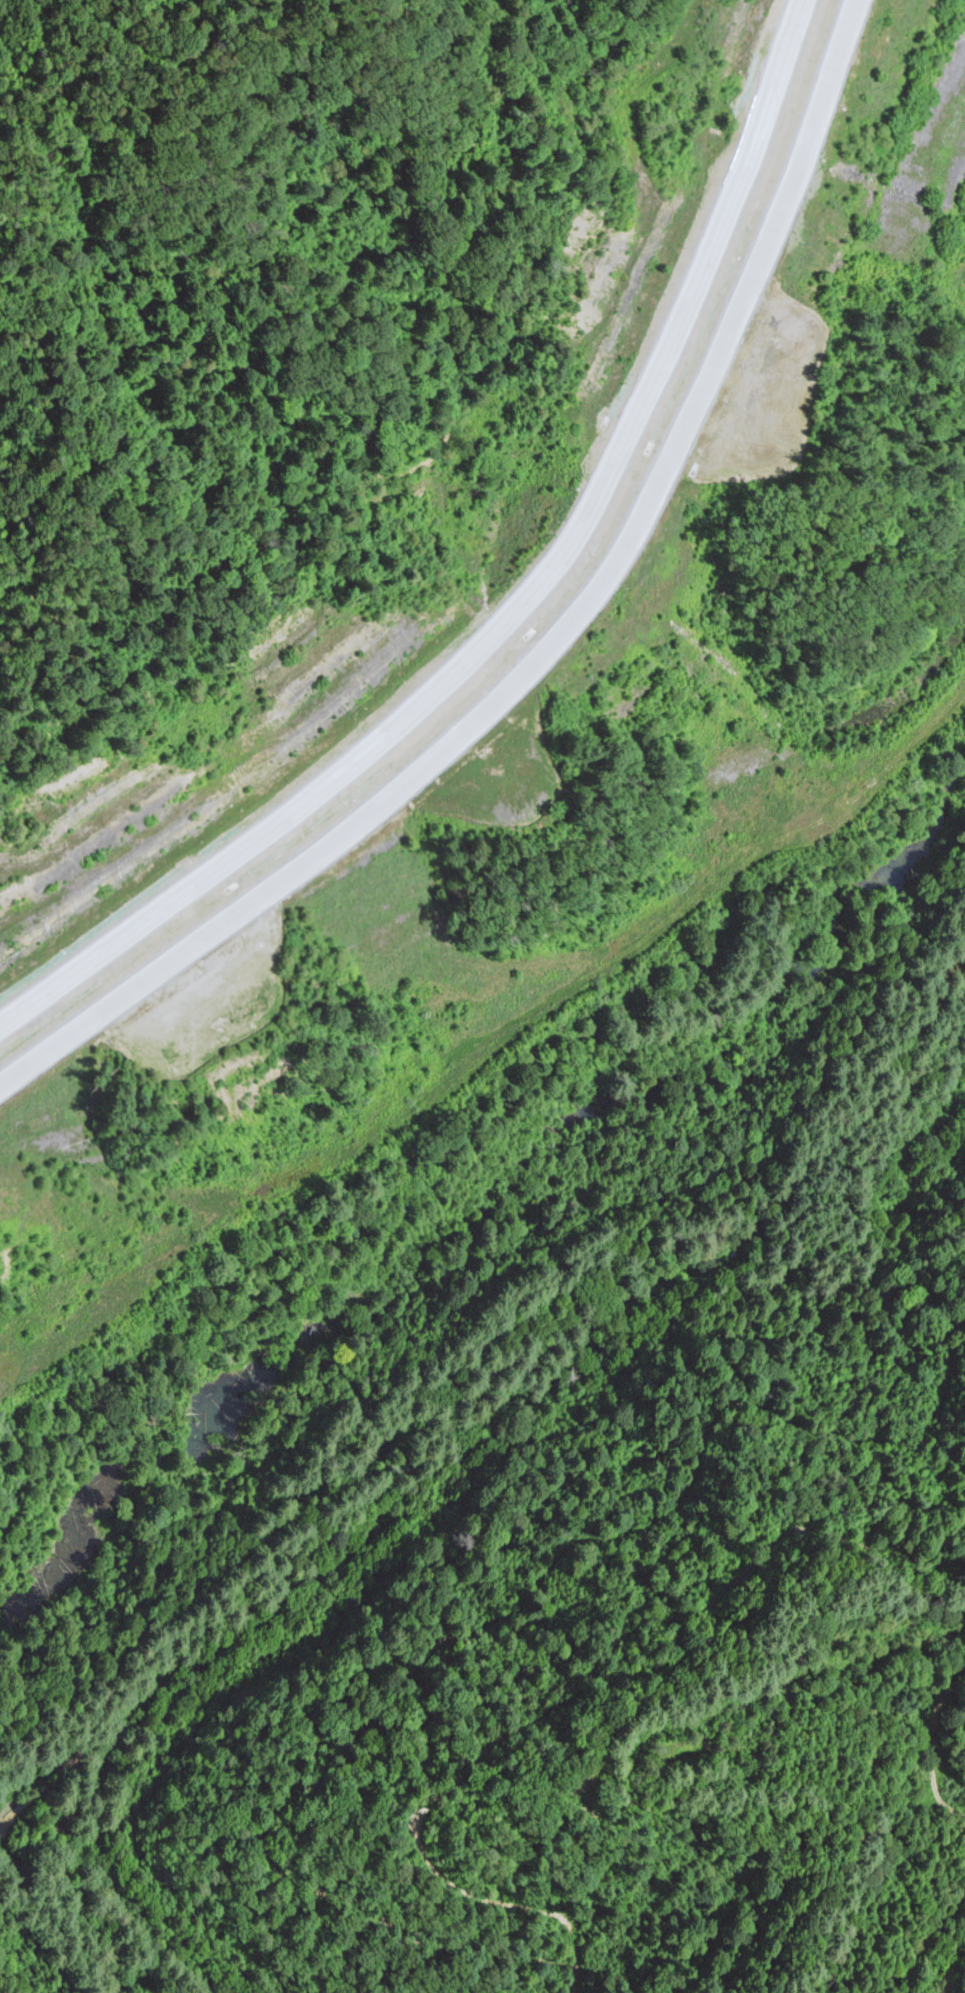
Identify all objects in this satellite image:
quarry: (899, 132)
road: (519, 608)
road: (546, 639)
quarry: (195, 765)

